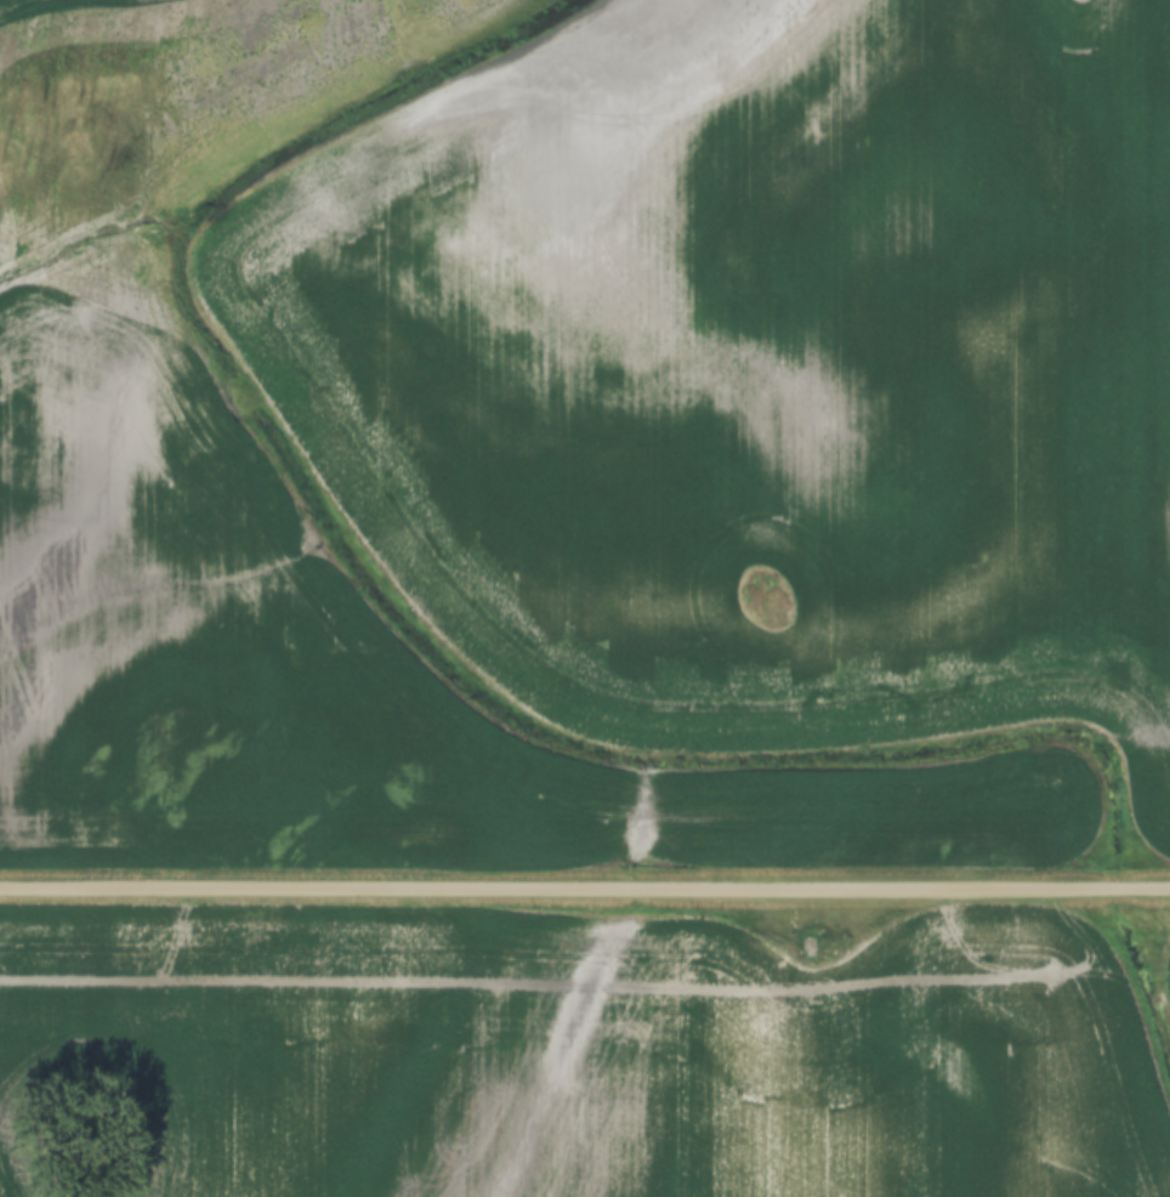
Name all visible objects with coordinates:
road: (585, 887)

